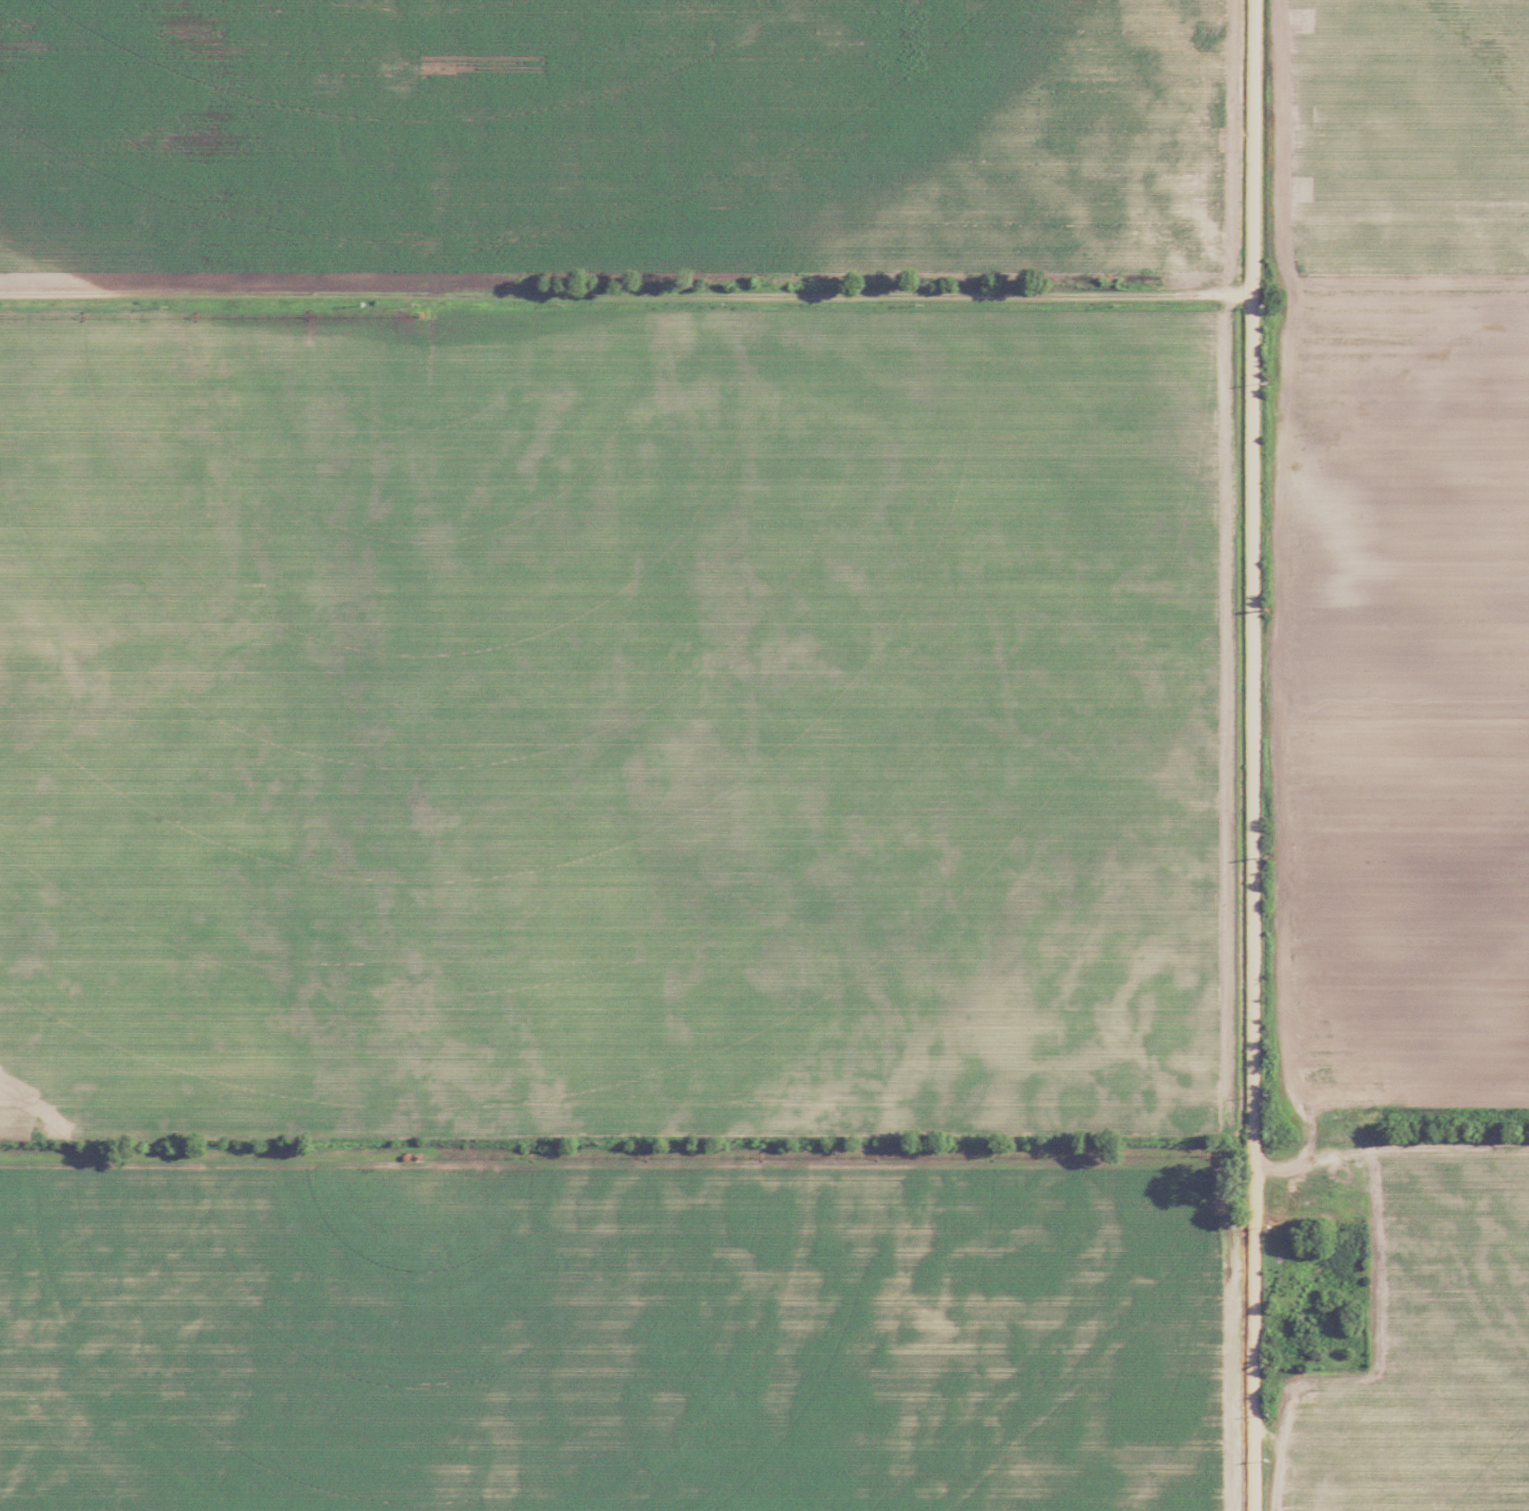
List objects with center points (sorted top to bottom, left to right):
road: (627, 292)
road: (1255, 755)
road: (1392, 1147)

